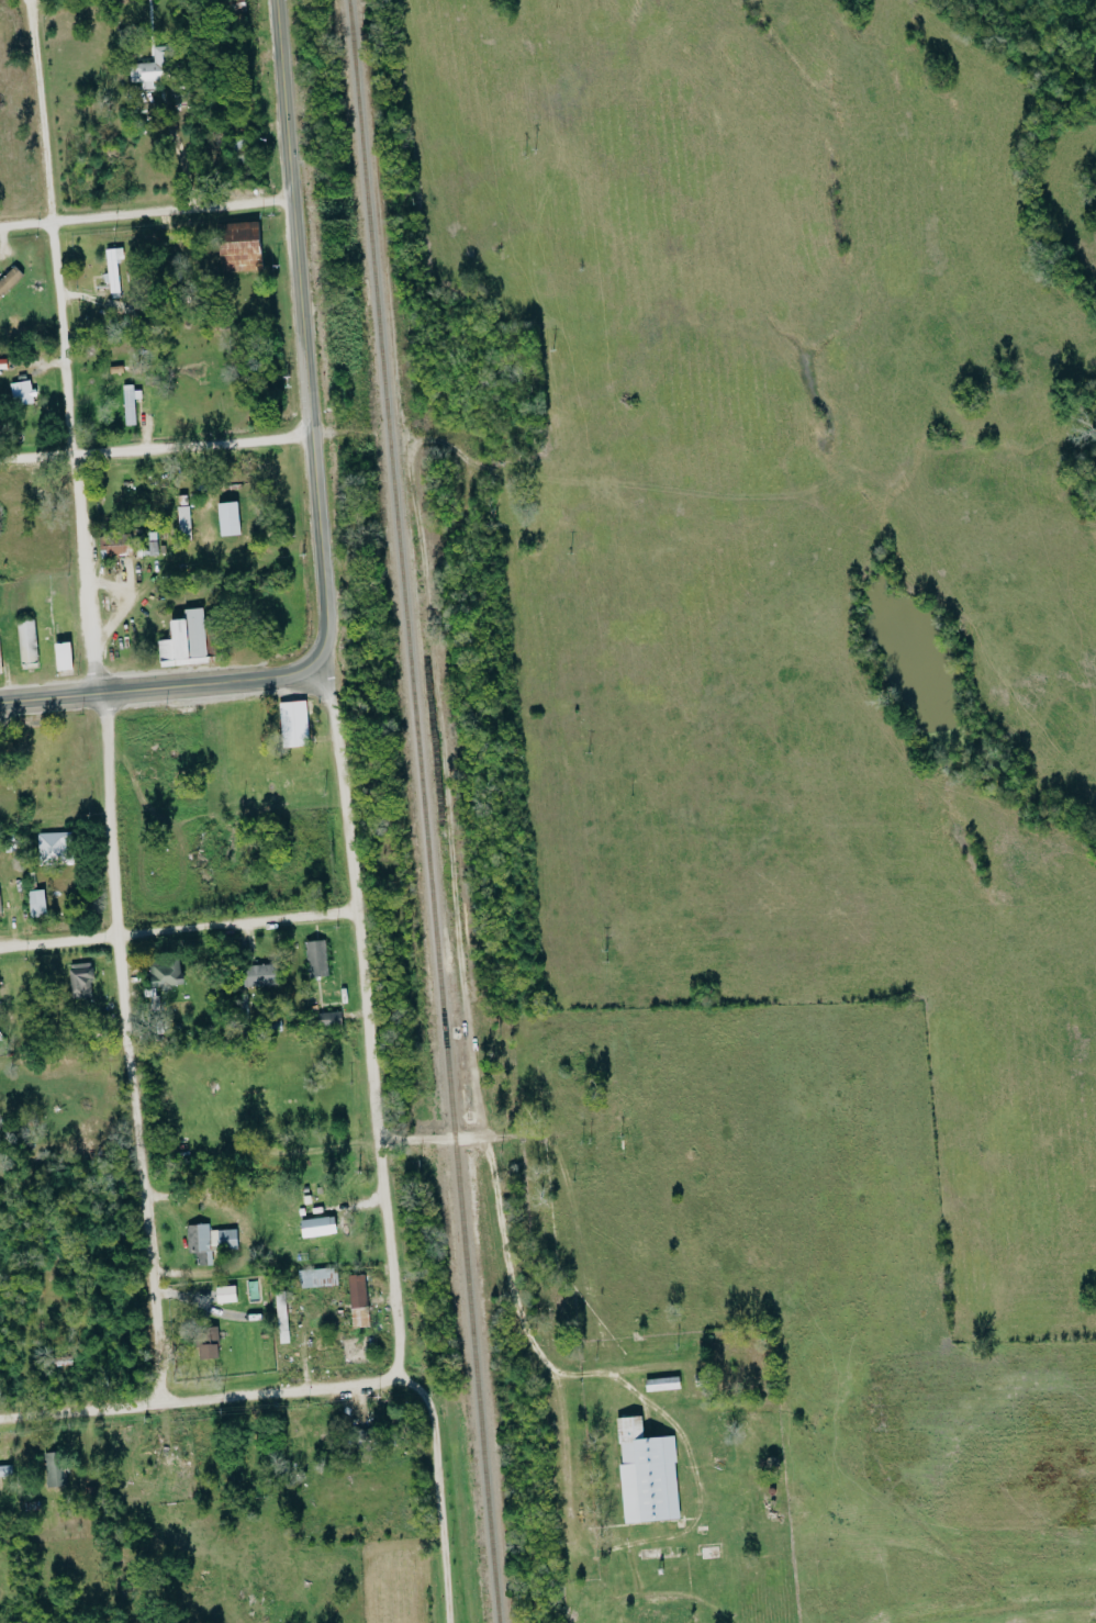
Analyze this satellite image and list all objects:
building: (154, 68)
road: (143, 212)
building: (241, 247)
building: (114, 272)
building: (10, 280)
building: (23, 393)
building: (131, 404)
road: (348, 434)
road: (154, 448)
road: (312, 488)
building: (230, 519)
building: (186, 523)
building: (115, 545)
building: (27, 640)
building: (186, 640)
building: (65, 656)
building: (0, 659)
road: (96, 701)
building: (294, 724)
road: (337, 785)
railway: (424, 810)
building: (55, 848)
building: (0, 903)
building: (37, 903)
road: (176, 928)
building: (317, 958)
building: (166, 974)
building: (259, 974)
building: (81, 978)
building: (331, 1018)
road: (415, 1139)
road: (376, 1141)
building: (320, 1227)
building: (210, 1241)
building: (318, 1277)
building: (227, 1294)
building: (359, 1300)
building: (282, 1317)
building: (211, 1343)
building: (663, 1384)
road: (279, 1392)
building: (56, 1469)
building: (5, 1470)
building: (648, 1474)

